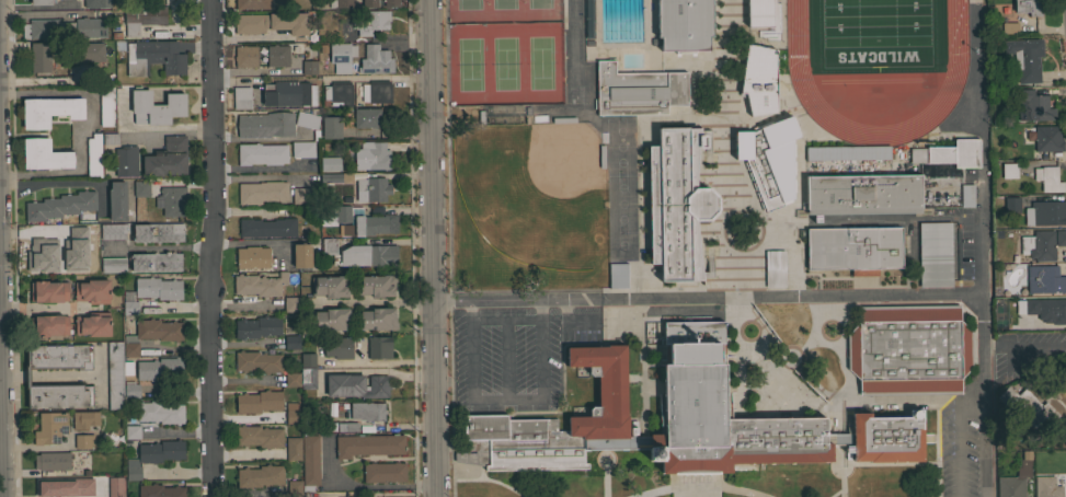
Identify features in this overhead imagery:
building: (39, 2)
building: (974, 2)
building: (95, 3)
building: (251, 3)
building: (340, 3)
building: (369, 3)
building: (391, 3)
building: (1015, 7)
building: (1028, 7)
building: (757, 13)
building: (141, 18)
building: (271, 23)
building: (372, 23)
building: (684, 24)
building: (1009, 27)
building: (62, 28)
park: (872, 34)
road: (249, 37)
park: (503, 51)
building: (85, 53)
park: (503, 53)
building: (277, 55)
road: (571, 55)
building: (244, 56)
building: (39, 57)
building: (153, 57)
building: (339, 58)
building: (1025, 58)
building: (375, 61)
track: (874, 62)
building: (309, 67)
building: (758, 79)
building: (638, 91)
building: (376, 92)
building: (288, 93)
building: (340, 93)
building: (241, 97)
building: (106, 106)
building: (156, 107)
building: (1035, 107)
building: (48, 111)
building: (364, 117)
building: (307, 120)
building: (264, 125)
building: (331, 127)
road: (84, 128)
building: (1047, 138)
building: (110, 139)
building: (733, 145)
building: (302, 149)
building: (261, 153)
building: (811, 153)
building: (949, 153)
building: (43, 154)
building: (93, 155)
building: (375, 155)
building: (167, 158)
building: (768, 160)
building: (125, 161)
building: (326, 165)
building: (1009, 171)
building: (339, 176)
building: (1047, 178)
building: (141, 188)
building: (371, 188)
park: (619, 189)
building: (262, 192)
building: (861, 194)
building: (302, 195)
building: (966, 195)
building: (116, 200)
building: (172, 200)
building: (676, 203)
building: (1011, 205)
building: (59, 206)
park: (531, 206)
building: (1045, 212)
building: (360, 221)
building: (266, 227)
building: (112, 231)
building: (85, 232)
building: (158, 232)
building: (1059, 236)
building: (1039, 244)
building: (329, 245)
road: (158, 247)
road: (210, 247)
road: (427, 247)
building: (853, 248)
building: (933, 254)
building: (301, 255)
building: (366, 255)
building: (35, 257)
building: (252, 257)
building: (58, 259)
building: (156, 262)
building: (113, 265)
building: (775, 268)
building: (612, 276)
building: (1044, 279)
building: (259, 285)
building: (376, 285)
building: (330, 286)
building: (158, 288)
building: (48, 291)
building: (92, 291)
road: (727, 300)
building: (290, 304)
building: (129, 308)
building: (1046, 309)
building: (996, 313)
building: (331, 319)
building: (376, 319)
road: (503, 321)
road: (570, 323)
building: (92, 324)
building: (48, 325)
building: (256, 326)
building: (156, 331)
building: (291, 342)
building: (339, 347)
building: (378, 347)
building: (129, 349)
building: (908, 349)
parking lot: (513, 355)
building: (257, 361)
building: (157, 368)
building: (307, 370)
road: (375, 370)
building: (114, 375)
building: (26, 377)
building: (291, 379)
road: (979, 382)
building: (356, 385)
building: (130, 389)
building: (694, 391)
road: (504, 400)
building: (257, 402)
building: (1025, 405)
building: (367, 411)
building: (158, 412)
building: (291, 413)
building: (84, 419)
building: (346, 427)
building: (49, 428)
building: (131, 431)
building: (259, 436)
building: (885, 438)
road: (954, 439)
building: (83, 440)
building: (368, 444)
building: (293, 448)
building: (153, 455)
building: (310, 460)
building: (51, 461)
building: (383, 472)
building: (259, 476)
road: (0, 477)
building: (71, 486)
road: (360, 486)
building: (1011, 486)
building: (111, 487)
building: (1046, 487)
building: (294, 488)
building: (160, 490)
building: (310, 495)

